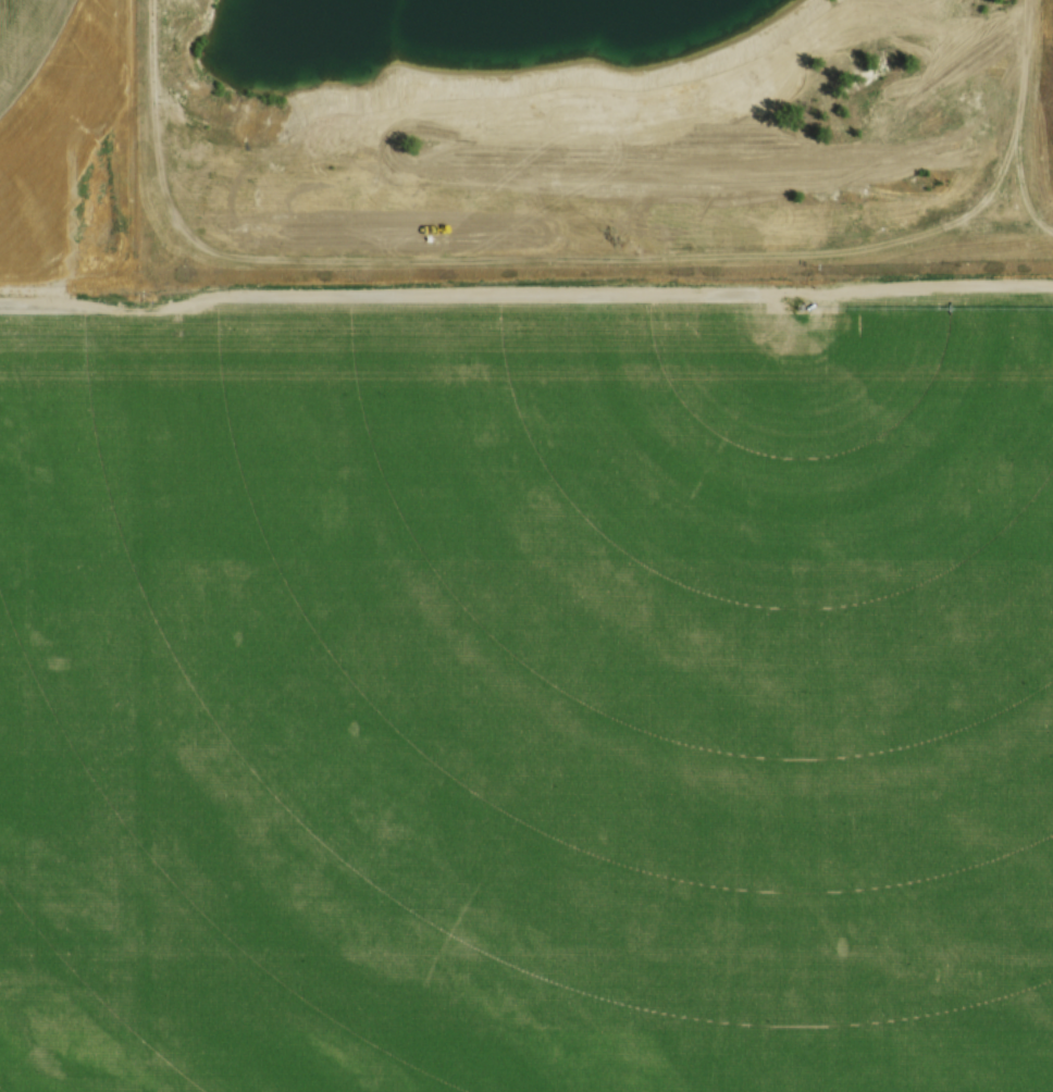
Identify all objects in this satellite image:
road: (563, 257)

